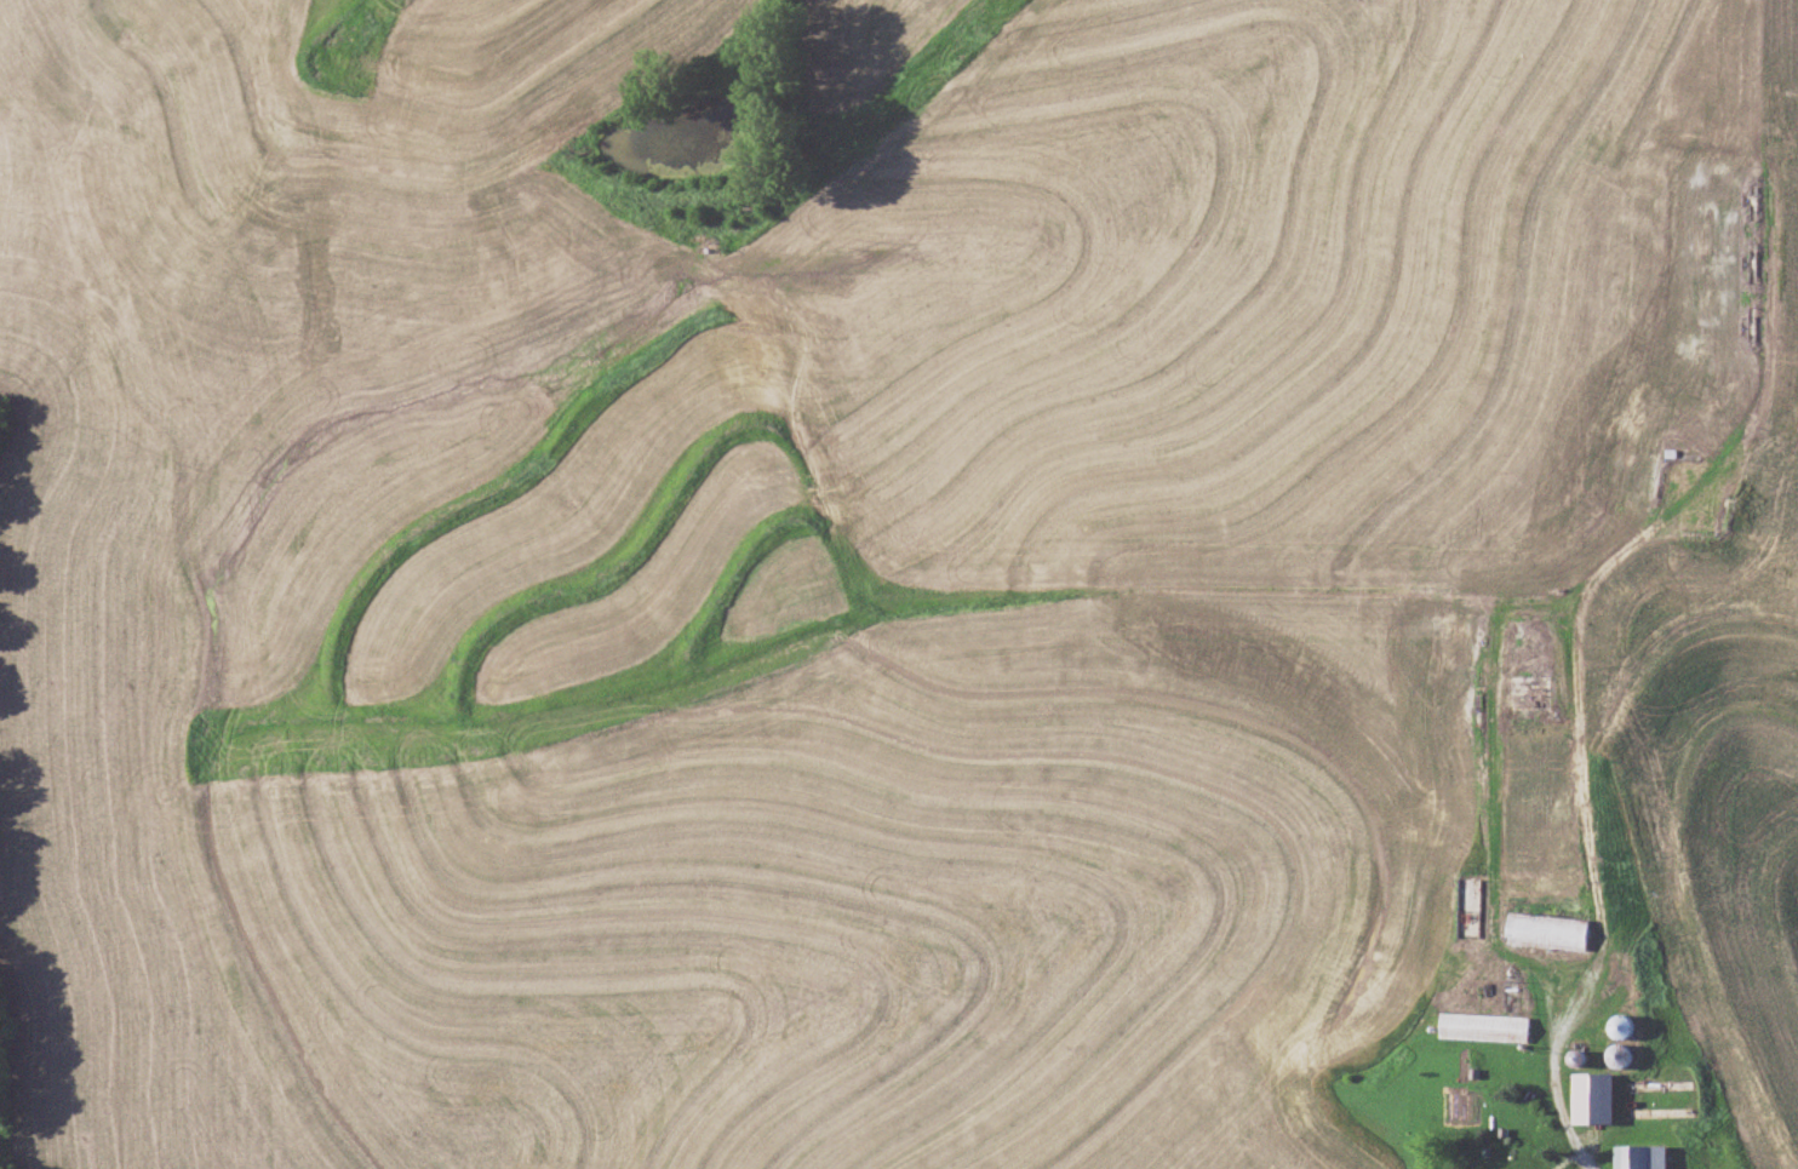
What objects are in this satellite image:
building: (1551, 929)
building: (1628, 1025)
building: (1488, 1026)
building: (1627, 1055)
building: (1599, 1098)
building: (1648, 1157)

